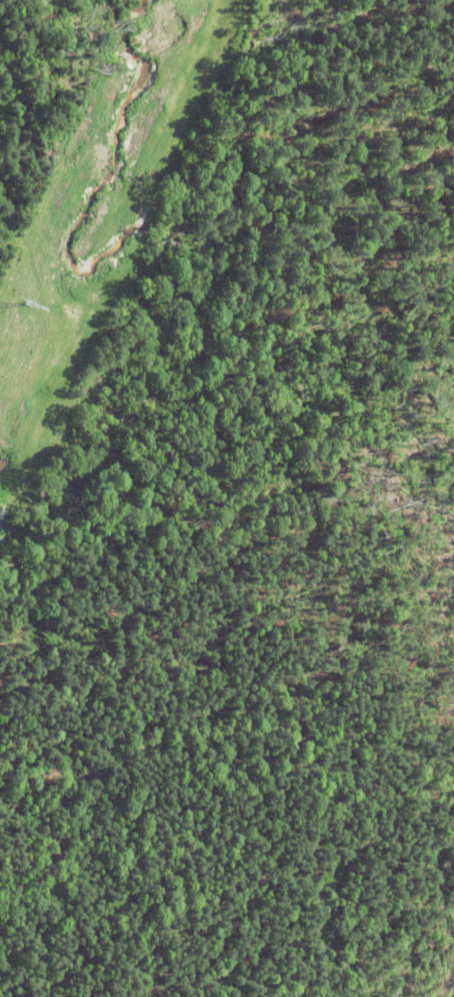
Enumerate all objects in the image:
power tower: (25, 302)

